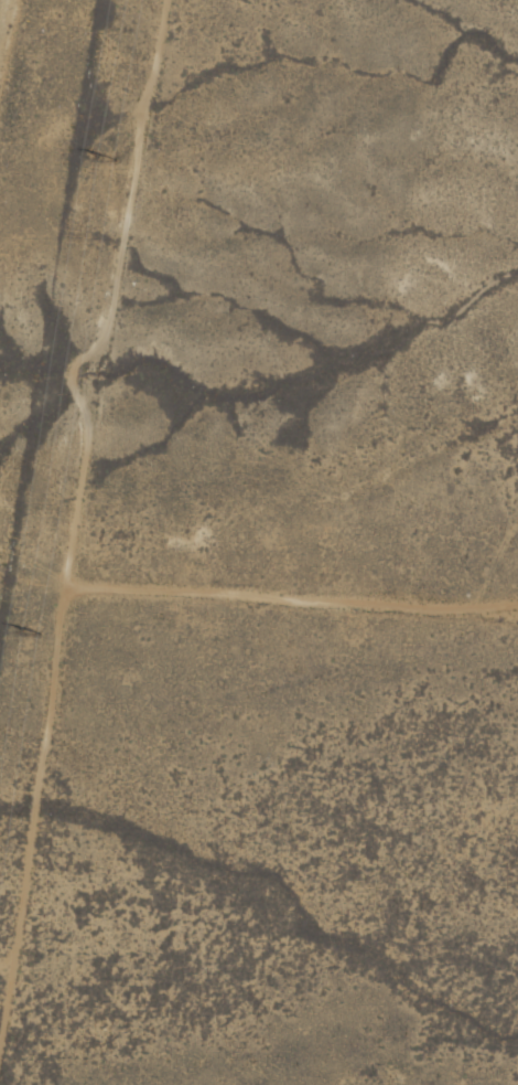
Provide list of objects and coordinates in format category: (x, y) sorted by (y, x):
power tower: (112, 161)
power tower: (36, 632)

